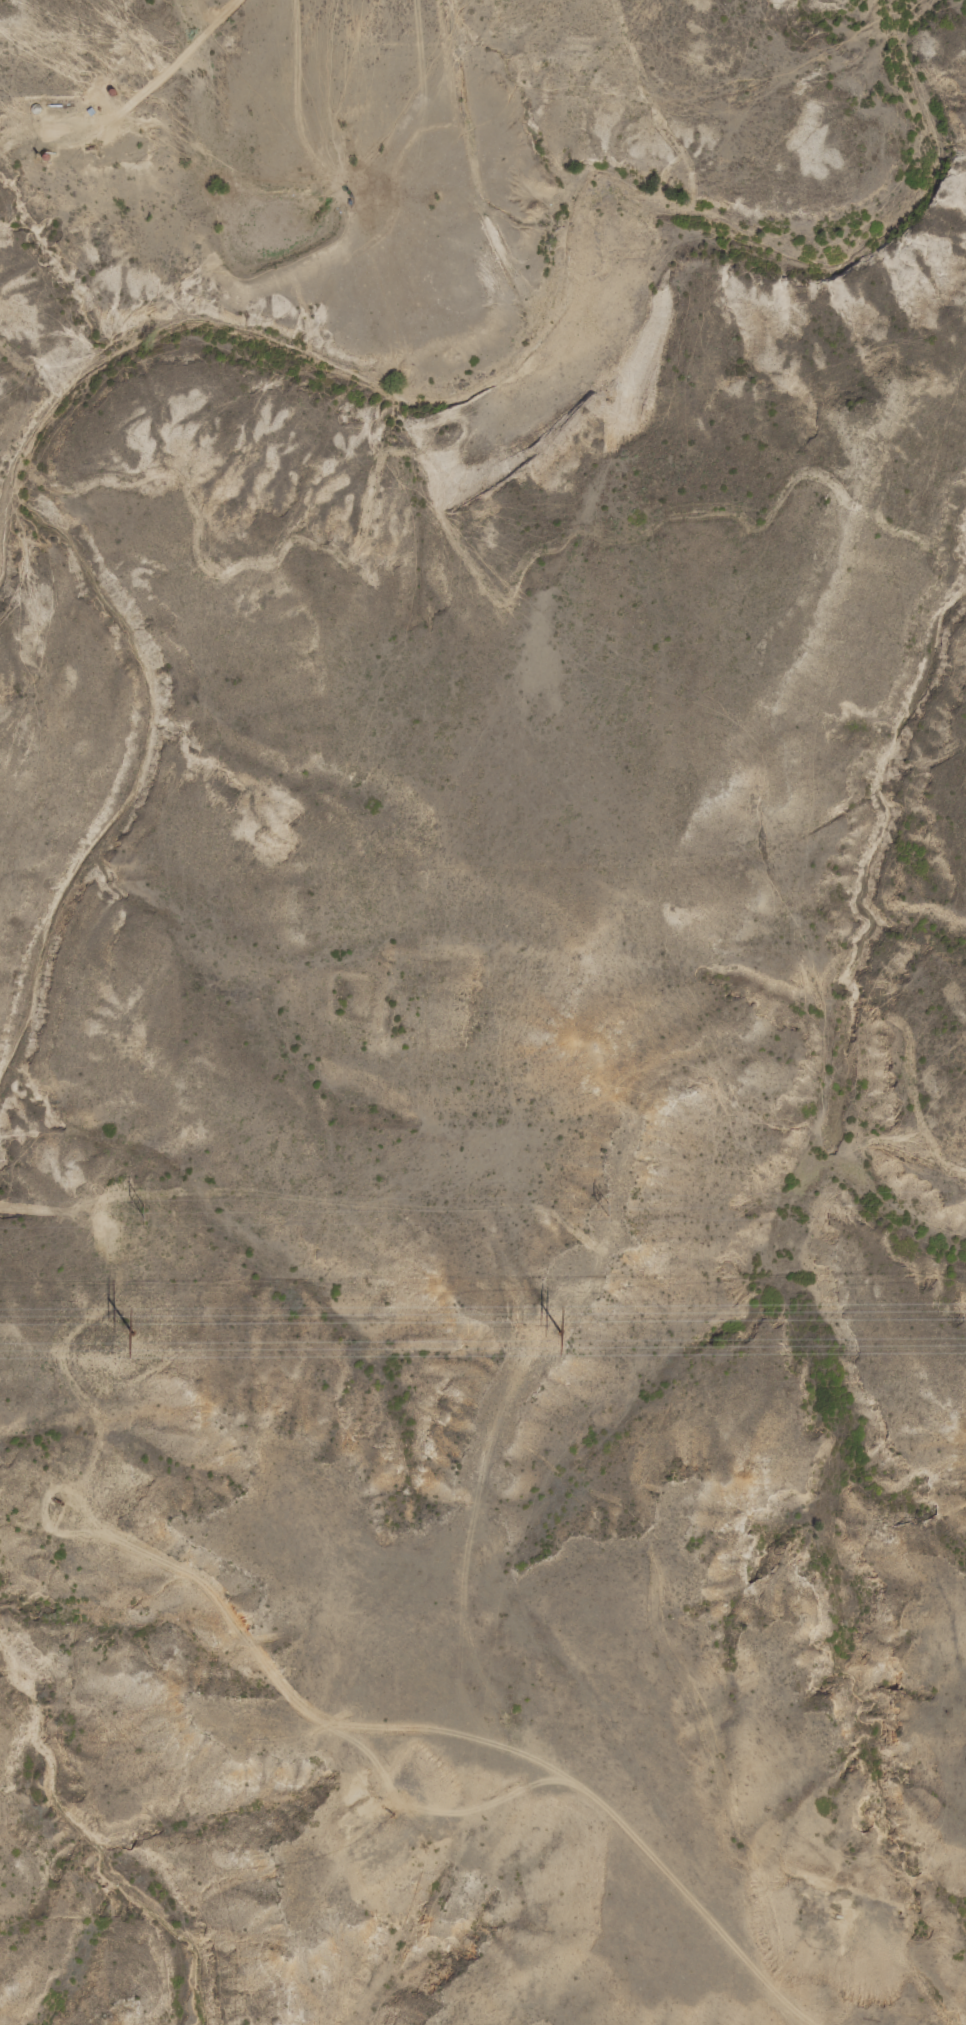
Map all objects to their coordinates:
road: (305, 94)
power tower: (605, 1208)
power tower: (143, 1215)
power tower: (562, 1331)
power tower: (131, 1334)

